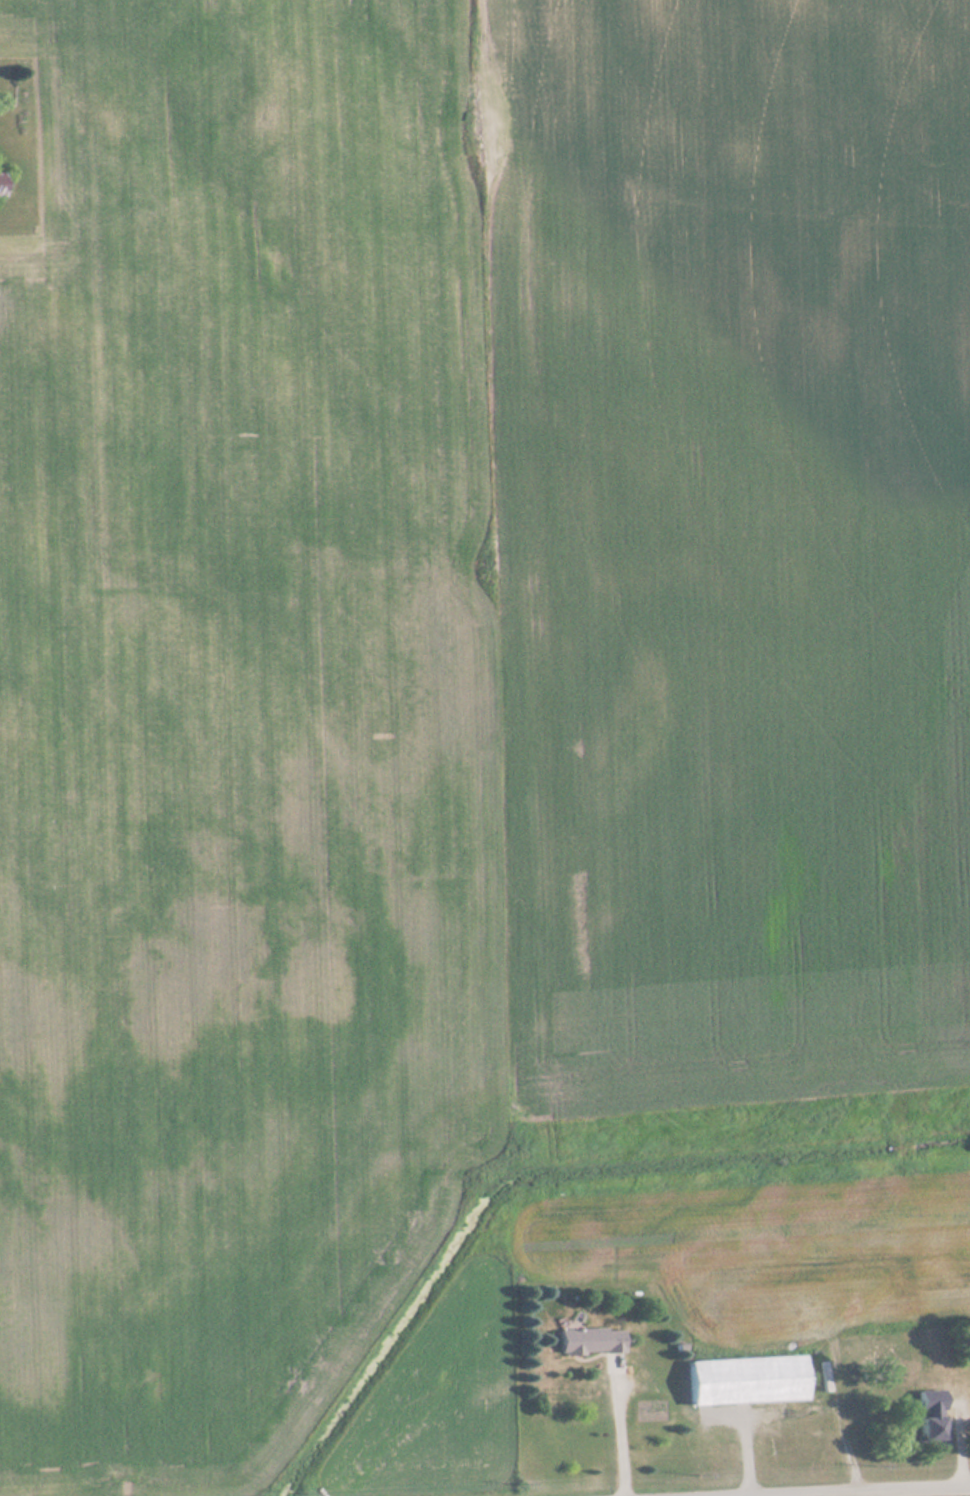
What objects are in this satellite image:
building: (2, 185)
building: (591, 1341)
building: (883, 1372)
building: (747, 1381)
building: (930, 1418)
road: (624, 1430)
road: (881, 1491)
road: (877, 1494)

